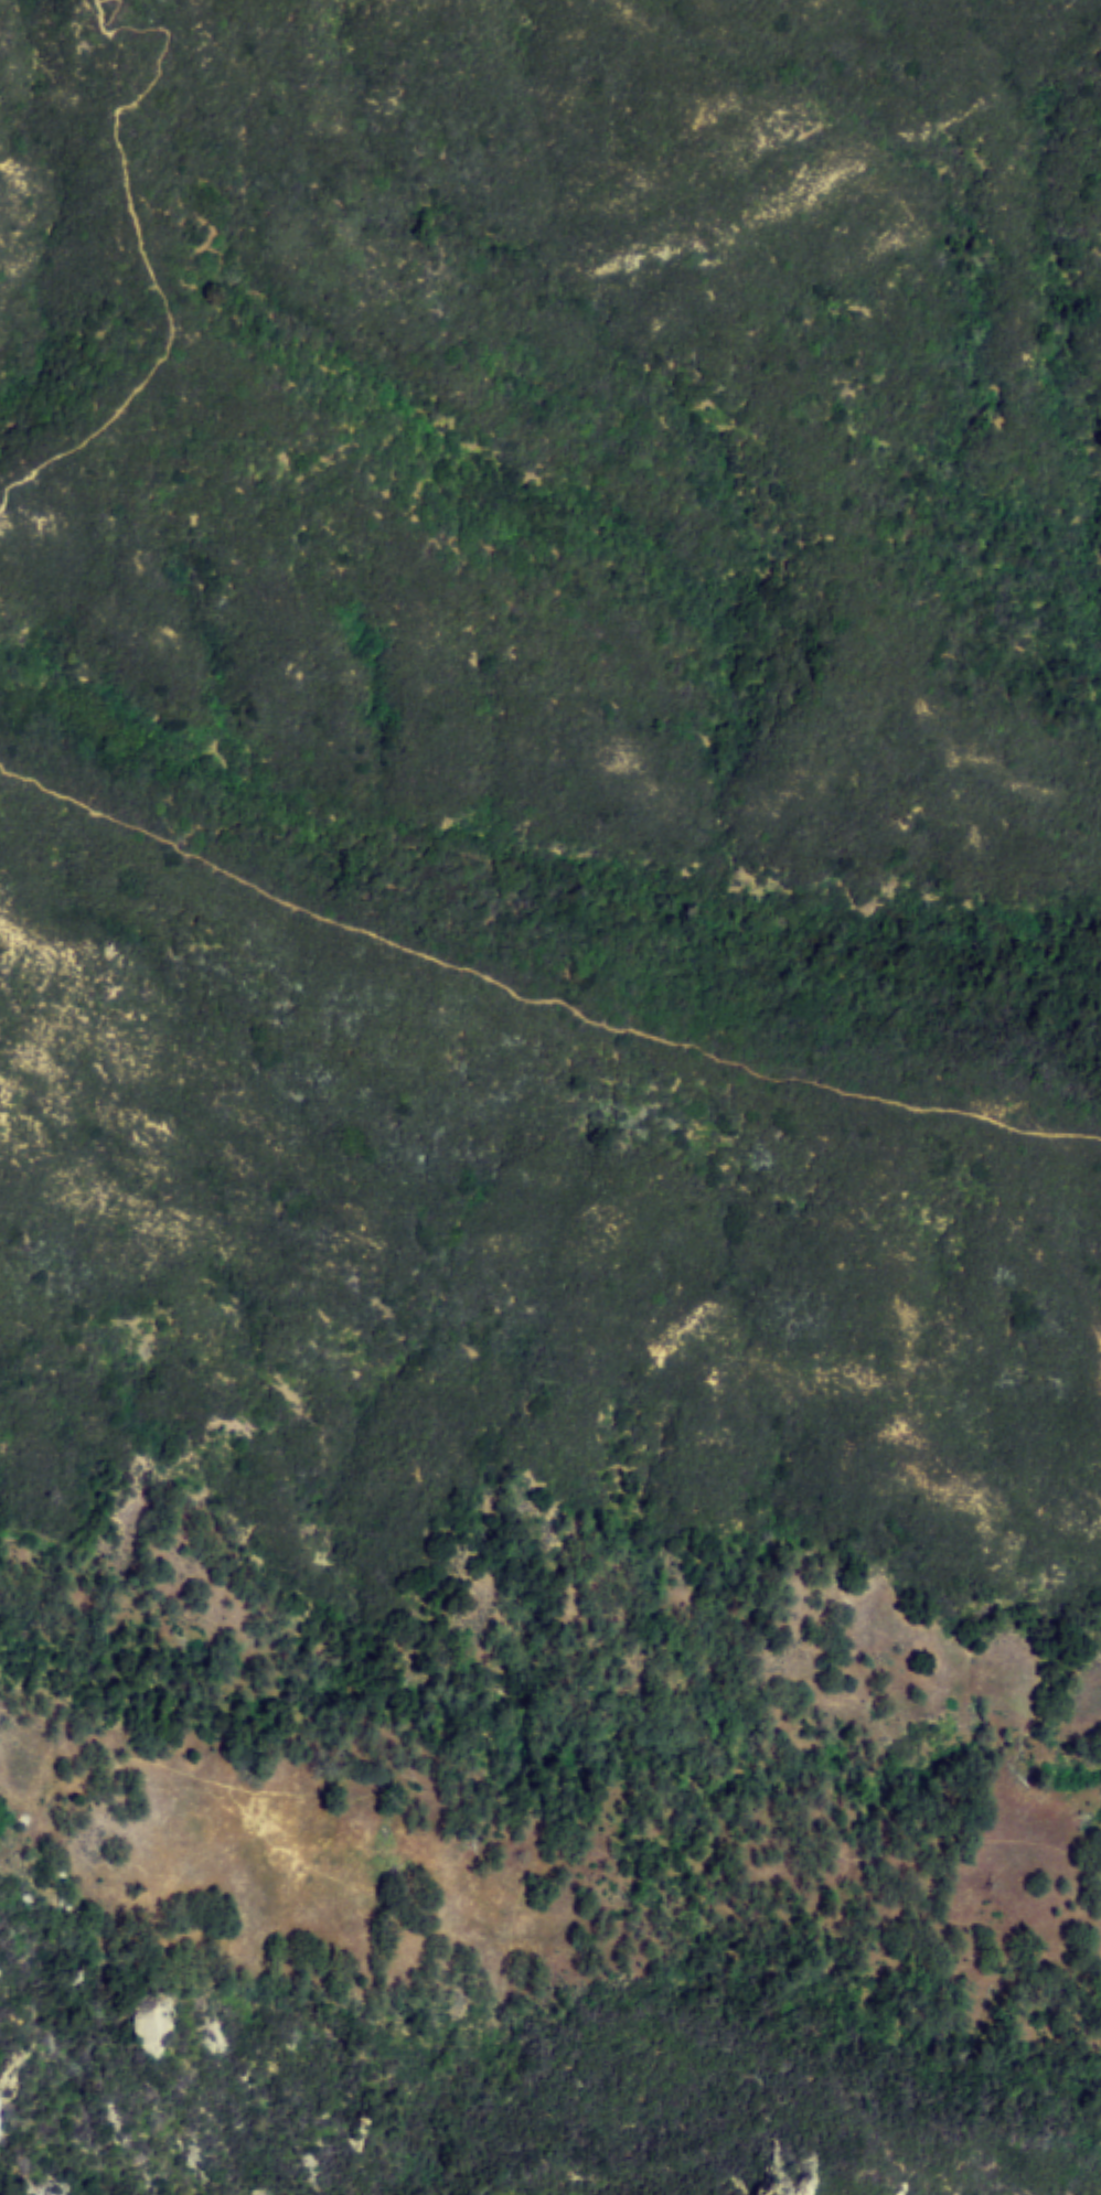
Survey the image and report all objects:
road: (145, 253)
road: (533, 1004)
road: (517, 1792)

